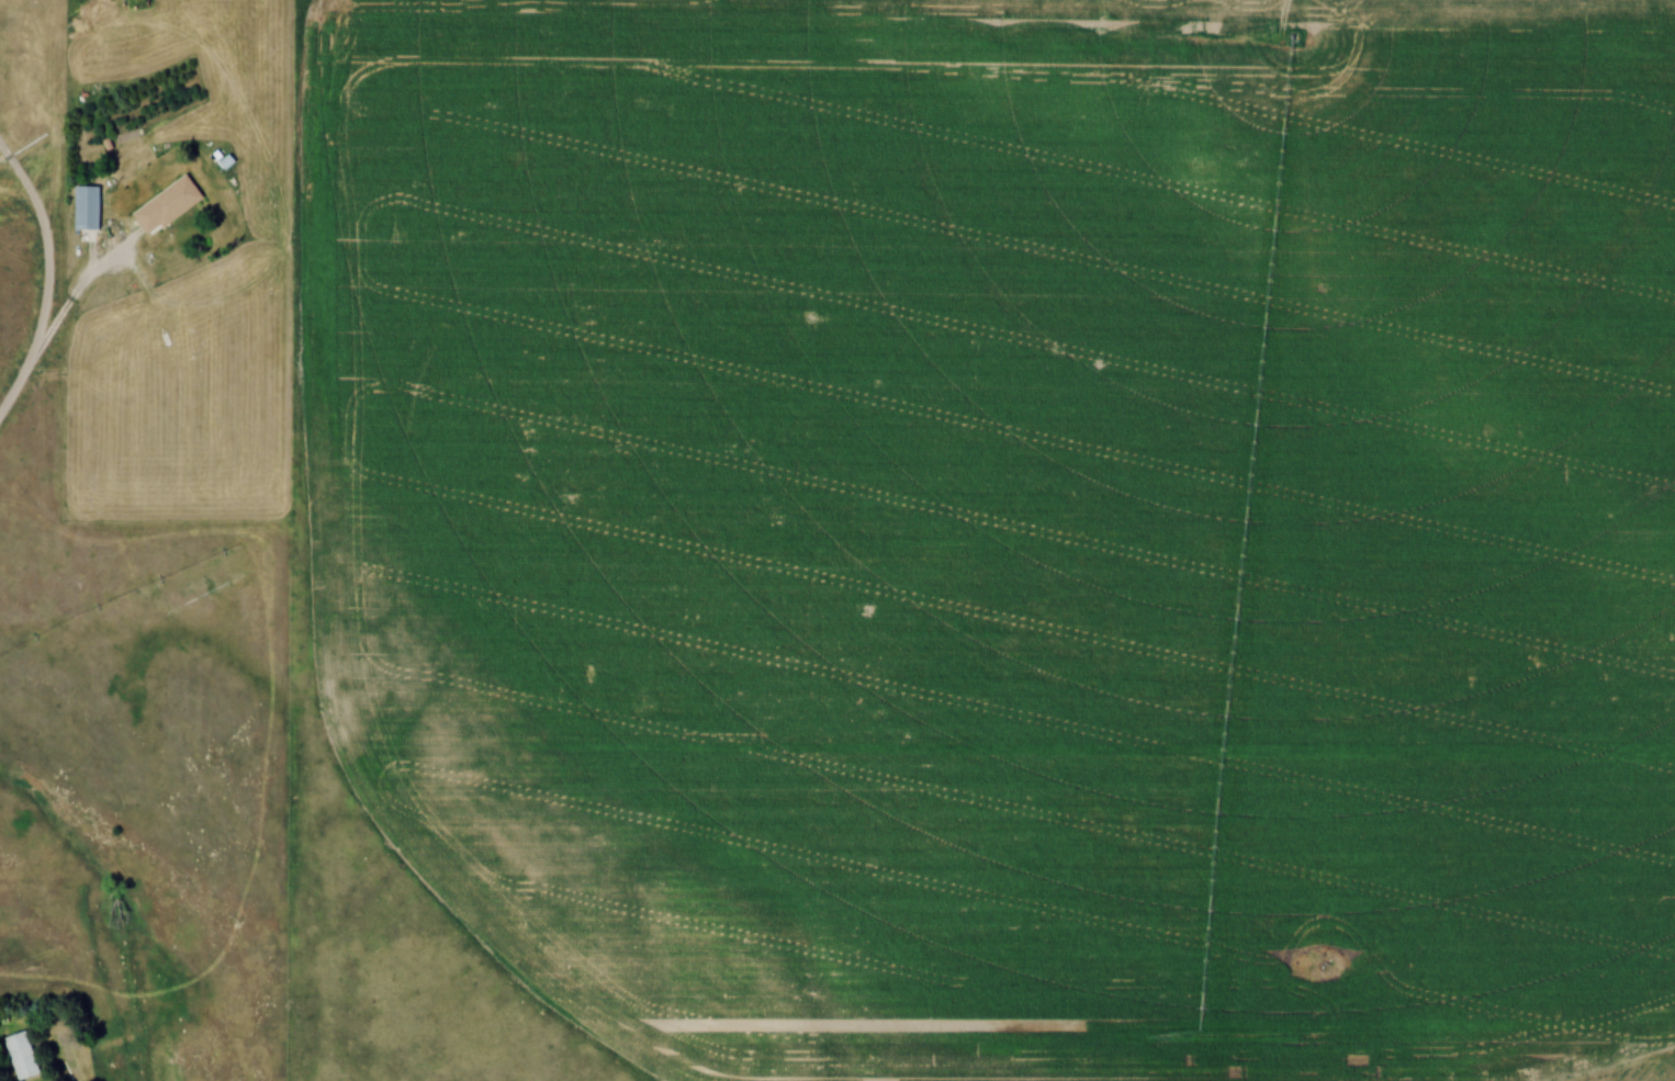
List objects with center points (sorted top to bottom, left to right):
building: (167, 205)
building: (86, 207)
road: (37, 281)
building: (23, 1056)

